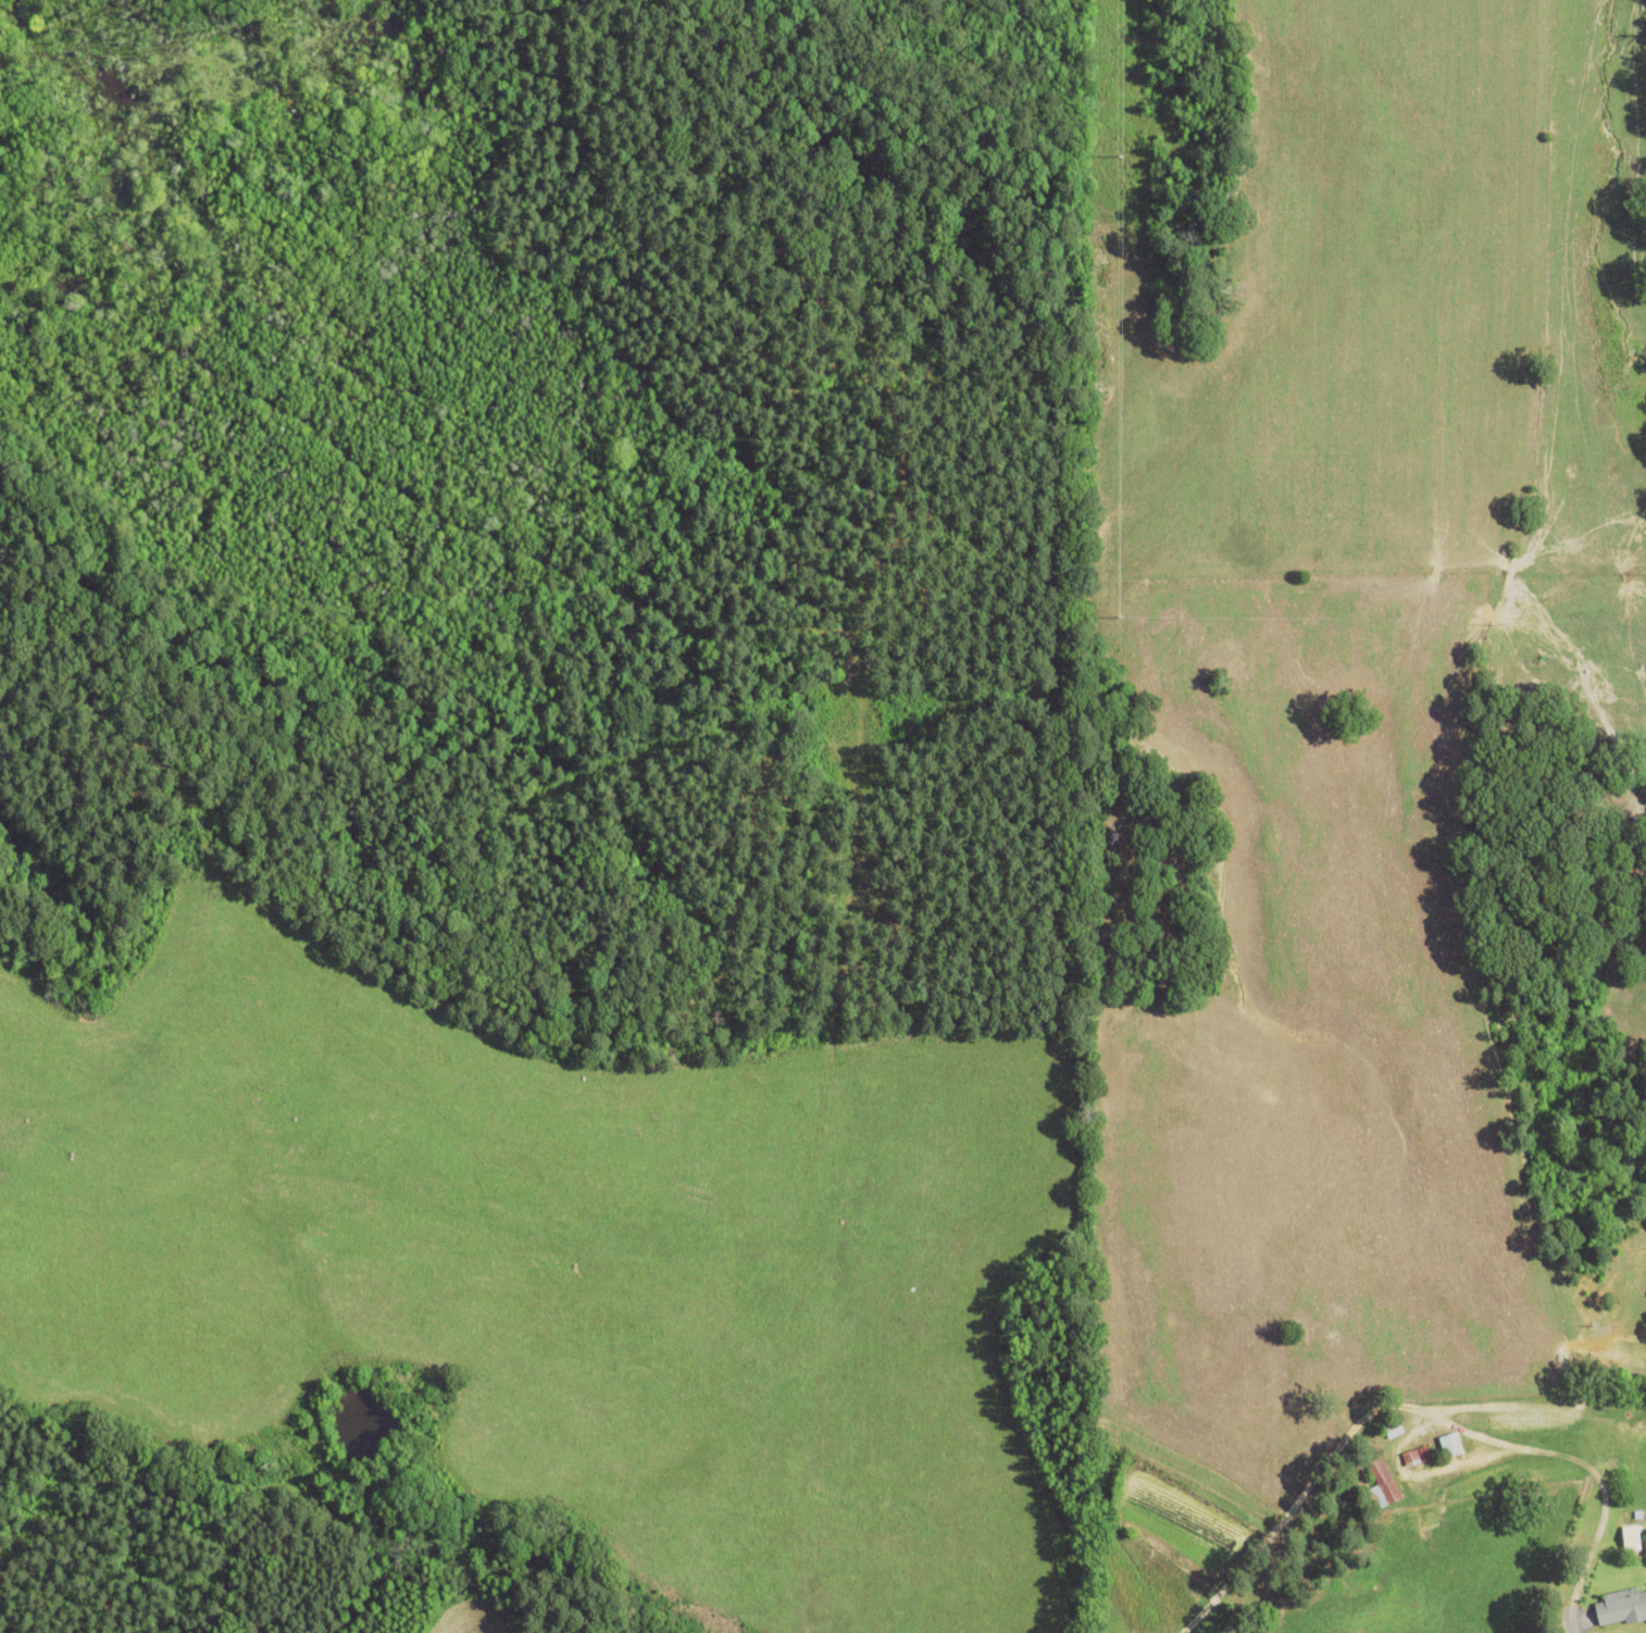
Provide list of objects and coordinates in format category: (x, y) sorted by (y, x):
building: (1448, 1444)
building: (1417, 1455)
building: (1379, 1481)
building: (1629, 1537)
building: (1620, 1605)
road: (1569, 1622)

